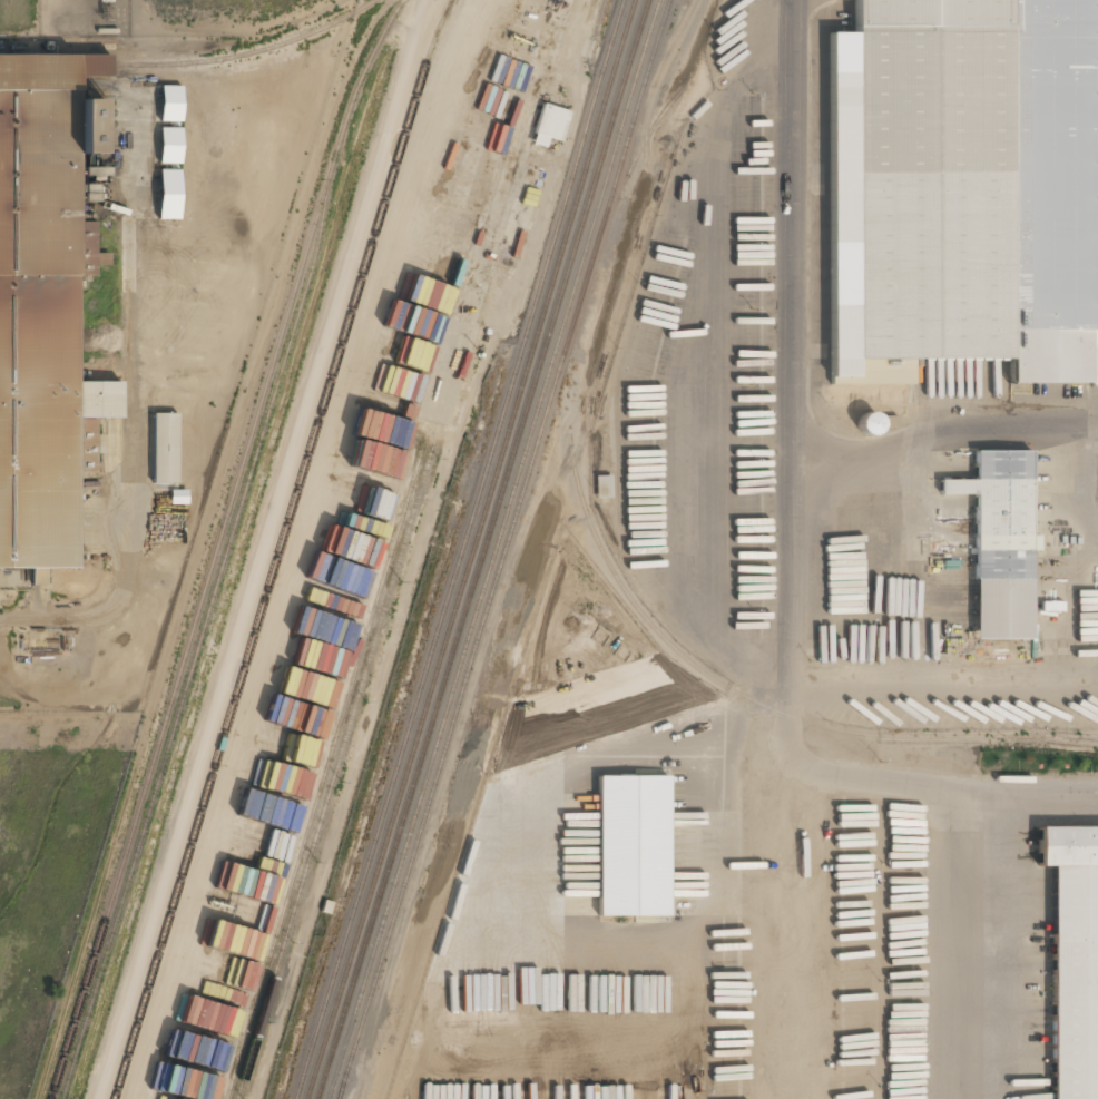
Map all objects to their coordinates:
power substation: (85, 18)
railway: (254, 52)
building: (95, 66)
building: (169, 102)
building: (549, 125)
building: (85, 126)
building: (169, 145)
railway: (631, 165)
building: (1, 169)
building: (168, 194)
building: (9, 262)
building: (2, 296)
building: (164, 451)
building: (52, 487)
building: (602, 487)
road: (128, 488)
road: (788, 534)
building: (1000, 542)
railway: (218, 544)
railway: (280, 548)
railway: (461, 549)
railway: (471, 549)
railway: (482, 549)
railway: (493, 549)
railway: (503, 549)
building: (38, 577)
railway: (200, 640)
railway: (699, 671)
railway: (1047, 736)
railway: (325, 769)
railway: (335, 773)
building: (283, 813)
building: (633, 845)
road: (962, 942)
building: (1072, 958)
building: (557, 1092)
railway: (340, 1093)

